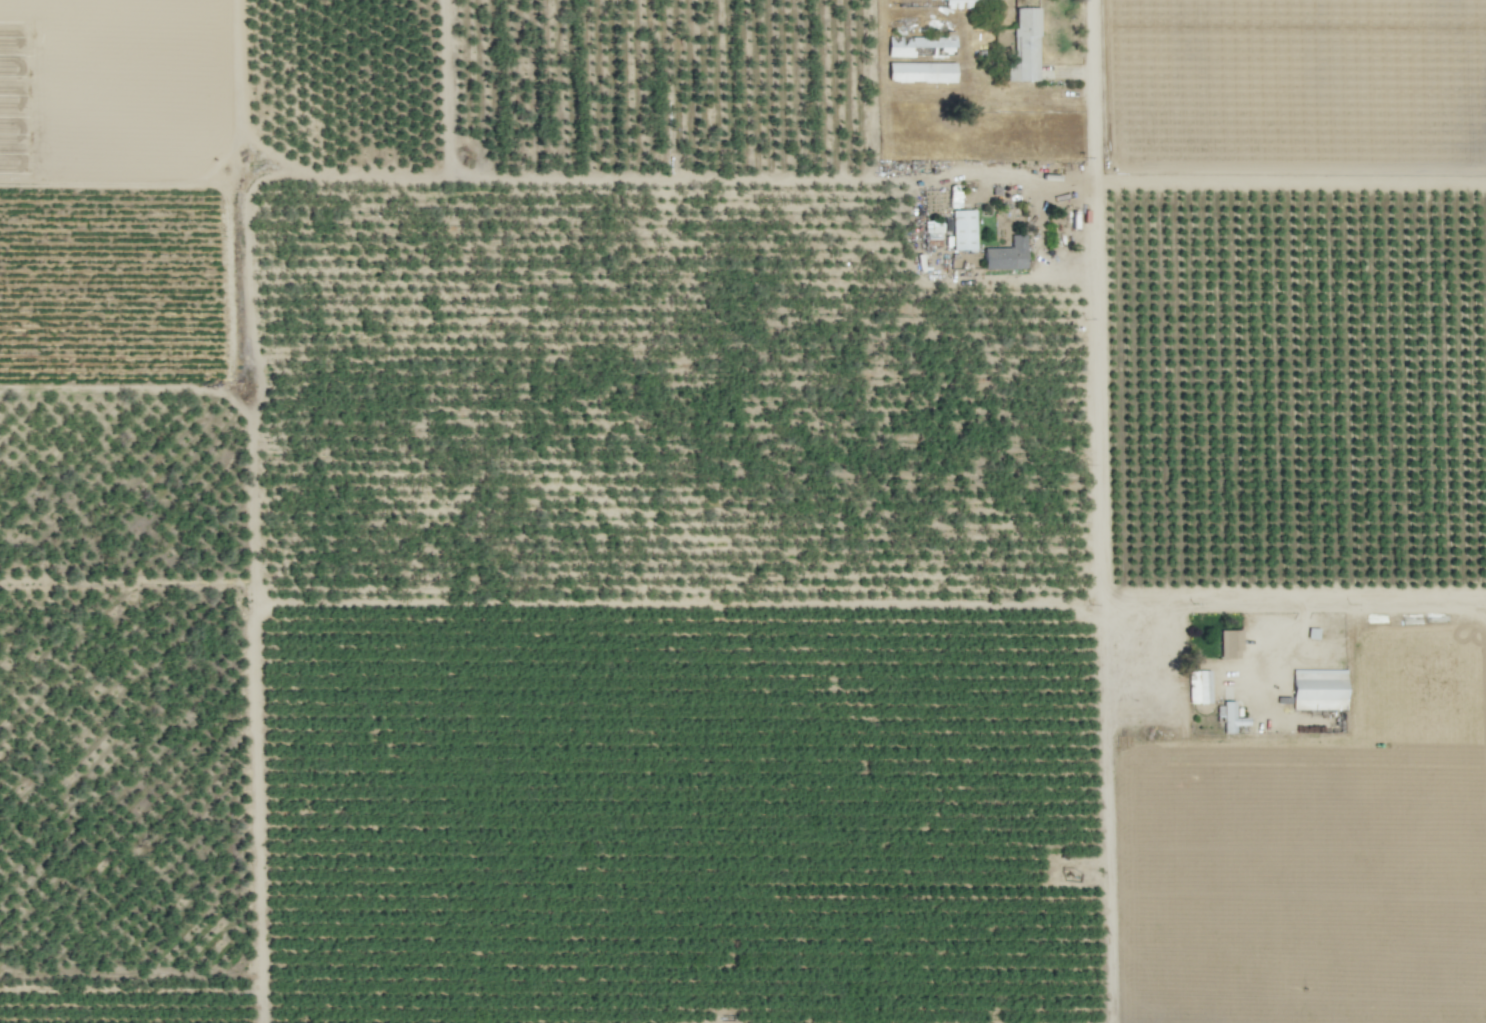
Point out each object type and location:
building: (941, 0)
building: (966, 4)
building: (920, 46)
building: (1025, 46)
building: (921, 72)
building: (963, 230)
building: (933, 233)
building: (1007, 255)
road: (1102, 511)
road: (1295, 599)
road: (1285, 639)
building: (1230, 644)
building: (1199, 686)
building: (1319, 689)
building: (1231, 718)

